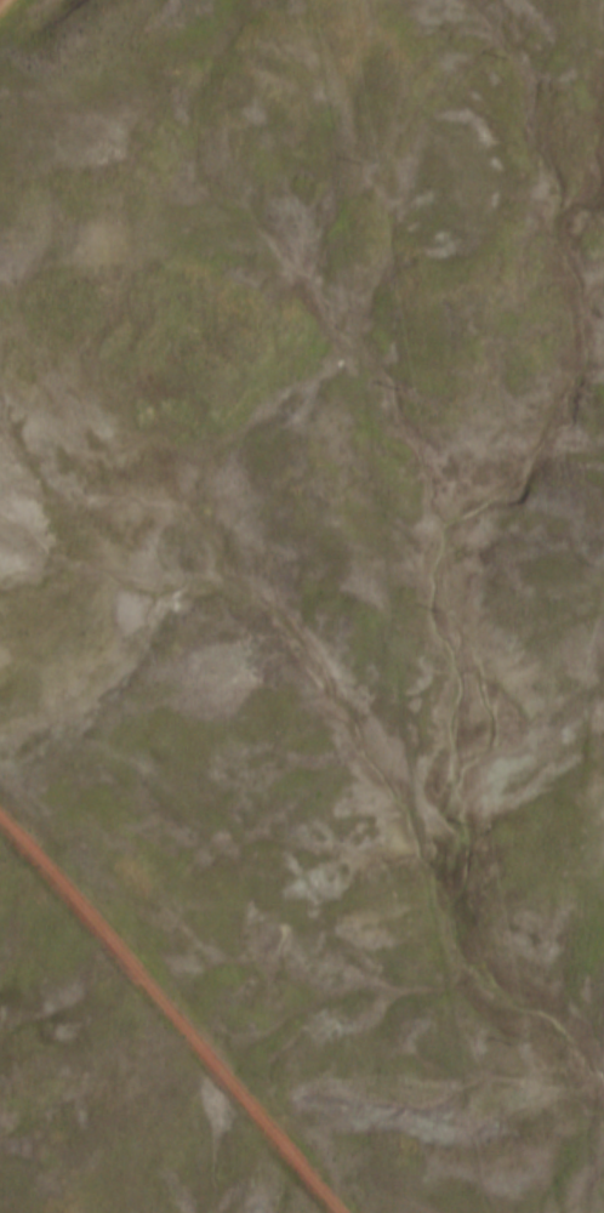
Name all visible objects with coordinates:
road: (1, 1)
road: (171, 1014)

